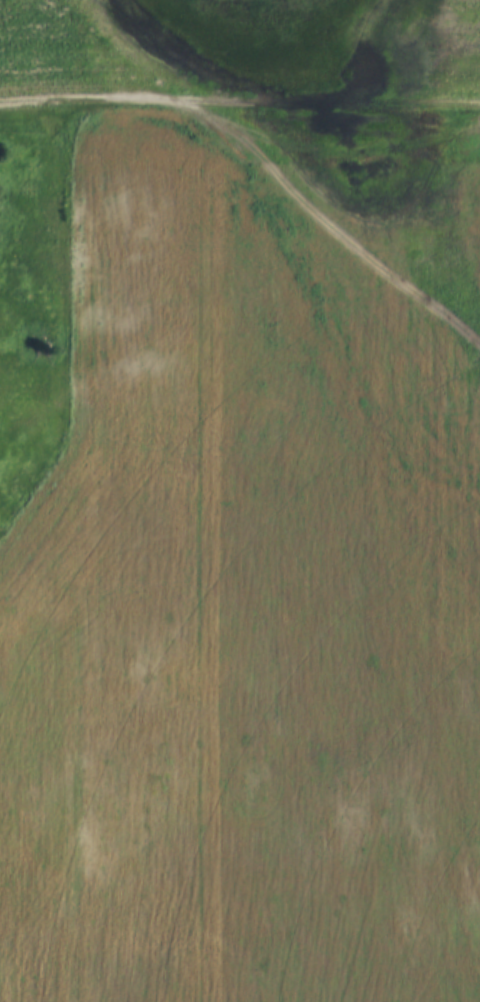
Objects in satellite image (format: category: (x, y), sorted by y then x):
road: (239, 102)

